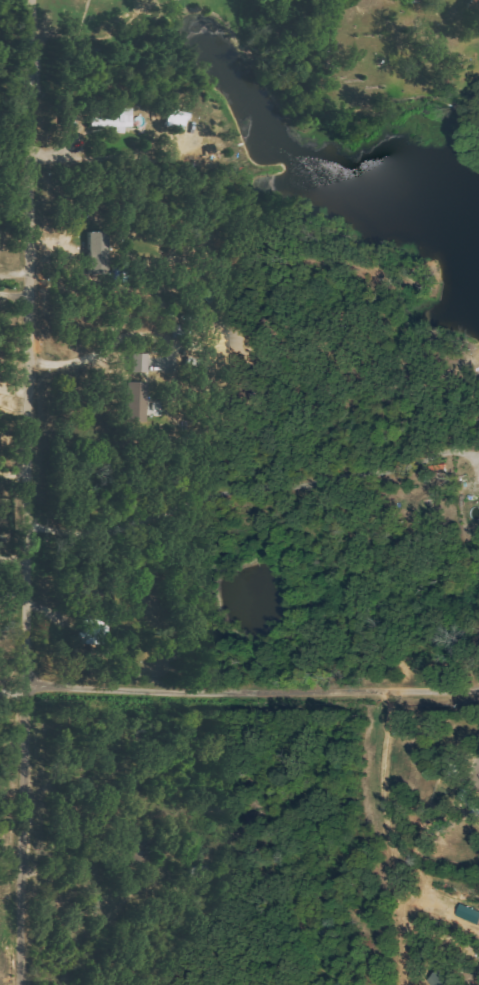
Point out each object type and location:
building: (176, 119)
building: (114, 120)
building: (98, 252)
road: (14, 292)
road: (113, 345)
building: (139, 362)
road: (13, 390)
building: (137, 401)
road: (13, 474)
road: (26, 482)
road: (251, 488)
road: (12, 595)
road: (11, 692)
road: (251, 696)
road: (478, 761)
road: (385, 824)
road: (21, 975)
building: (442, 979)

